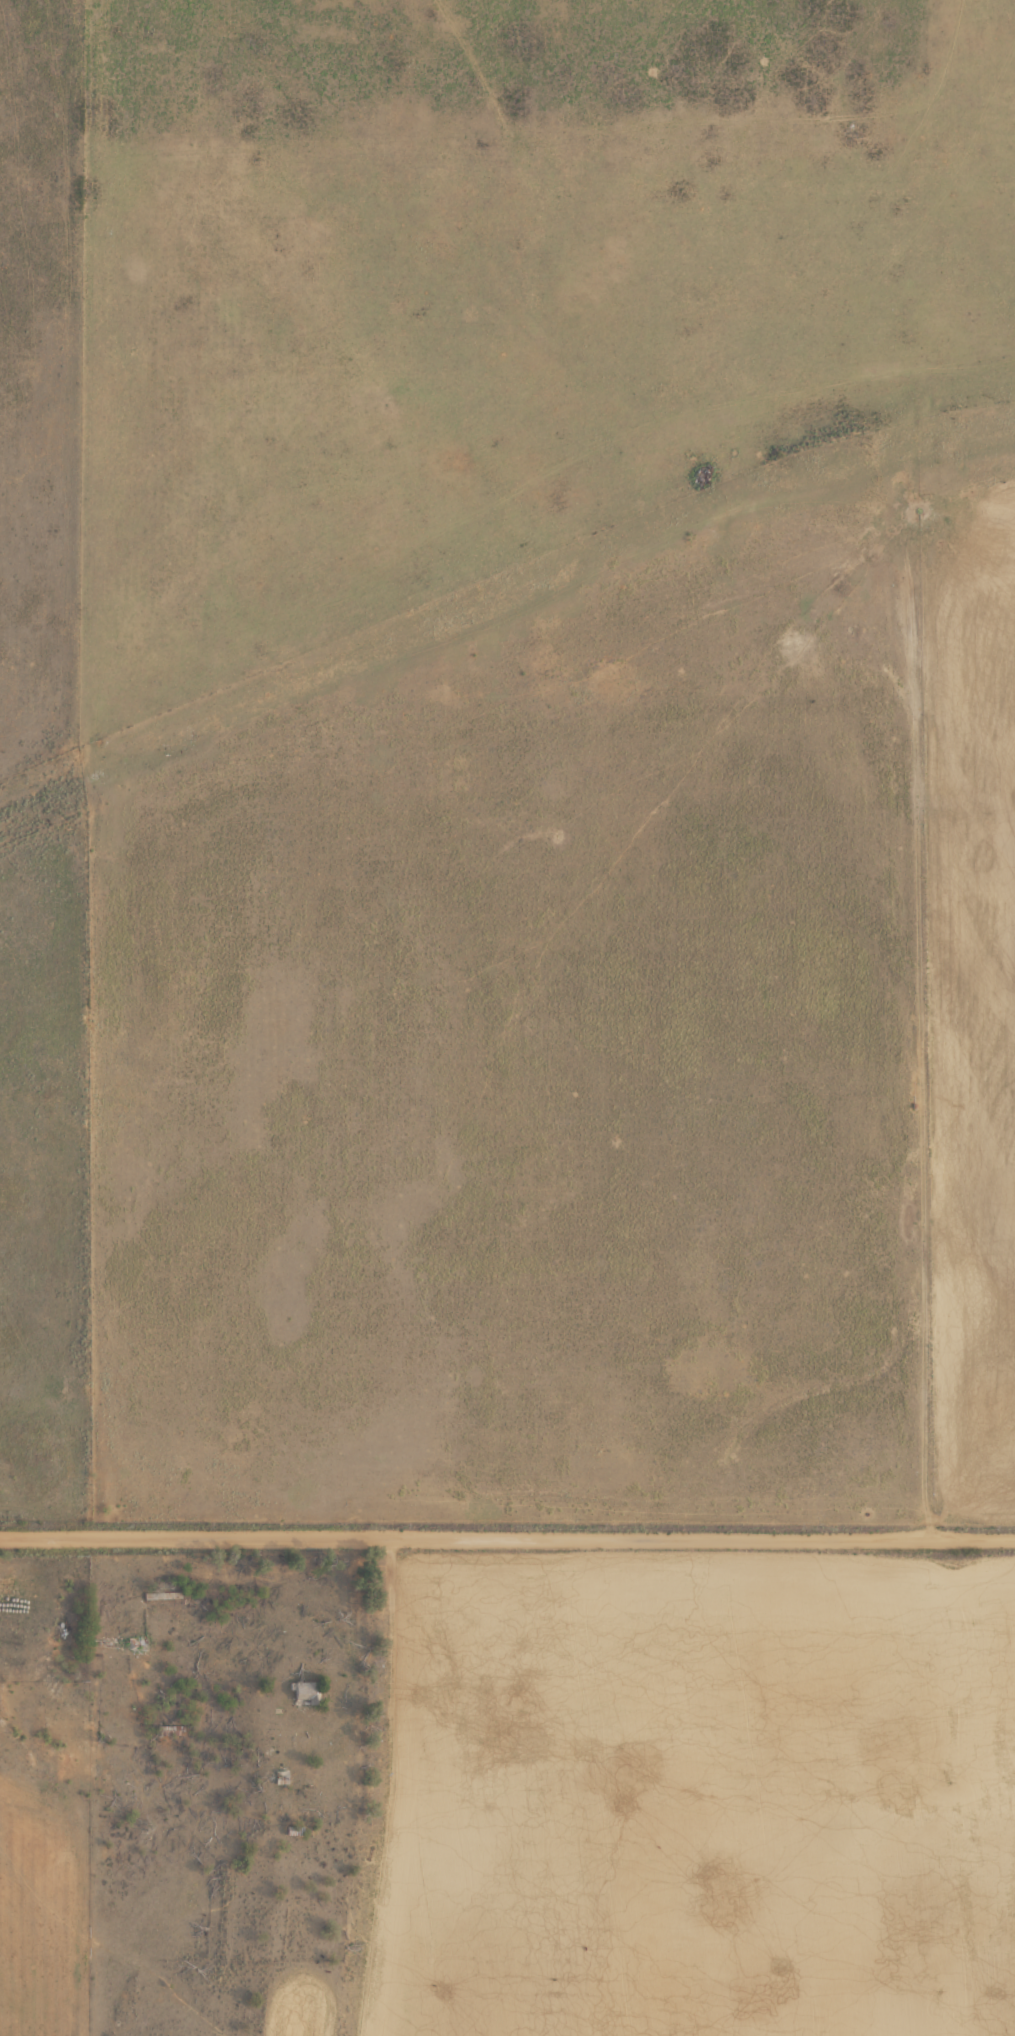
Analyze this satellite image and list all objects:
road: (507, 1538)
building: (312, 1692)

